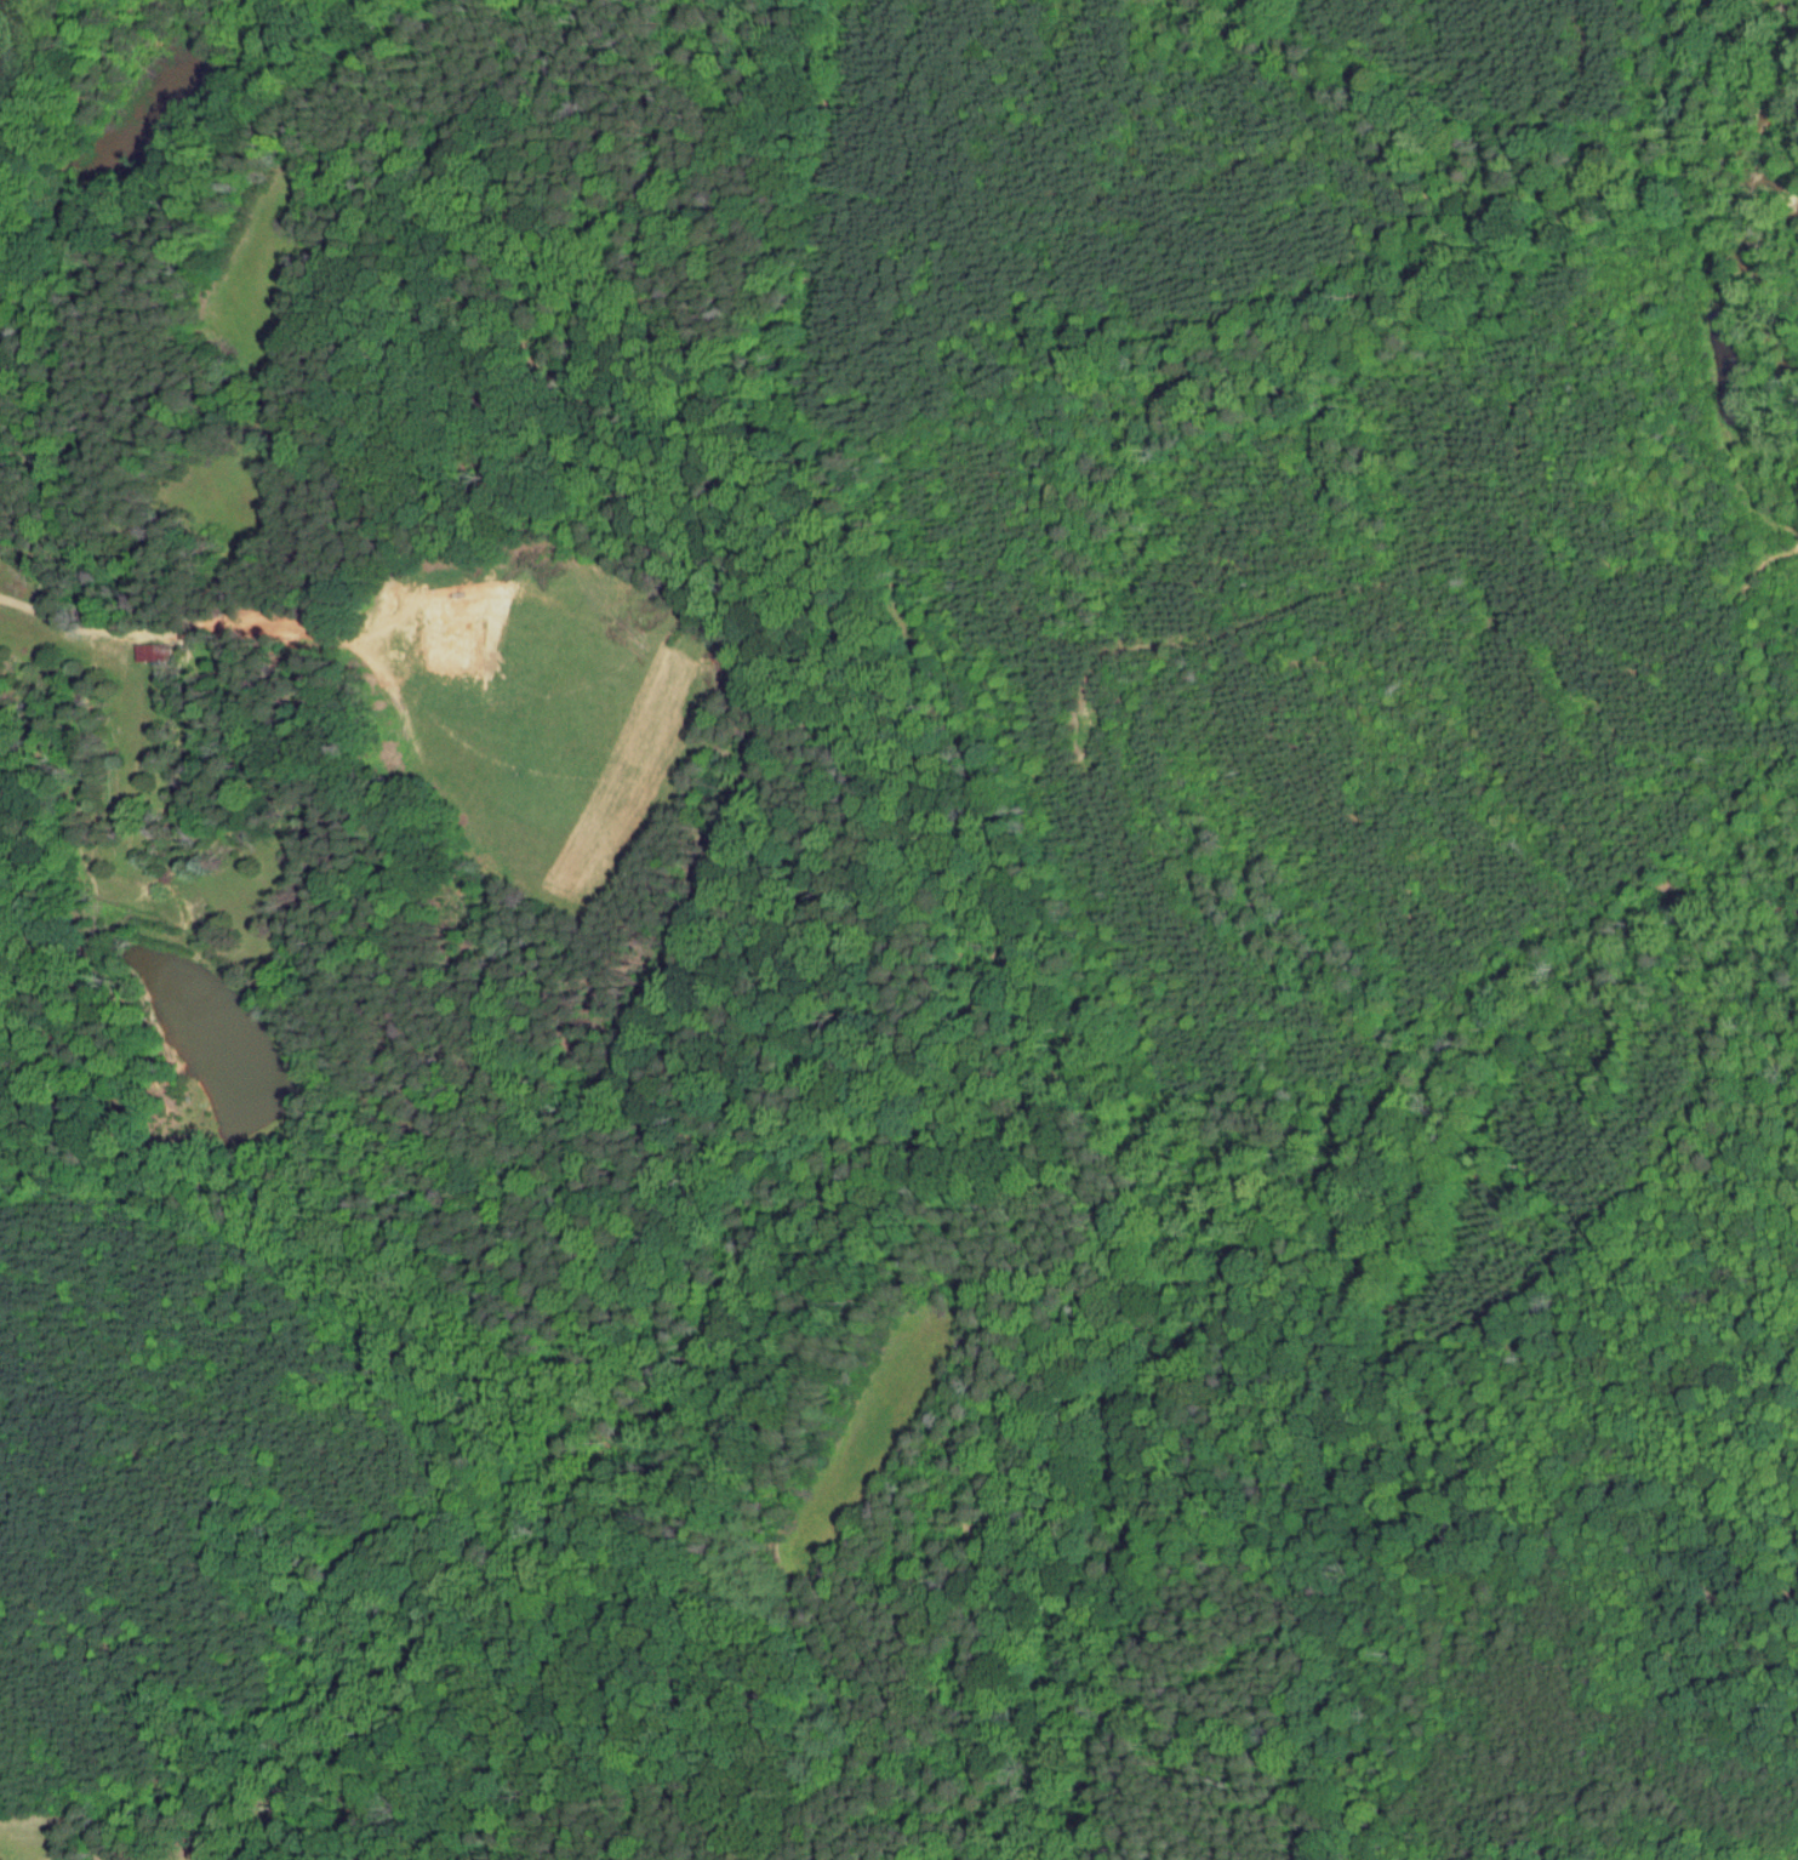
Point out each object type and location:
road: (73, 621)
building: (144, 644)

